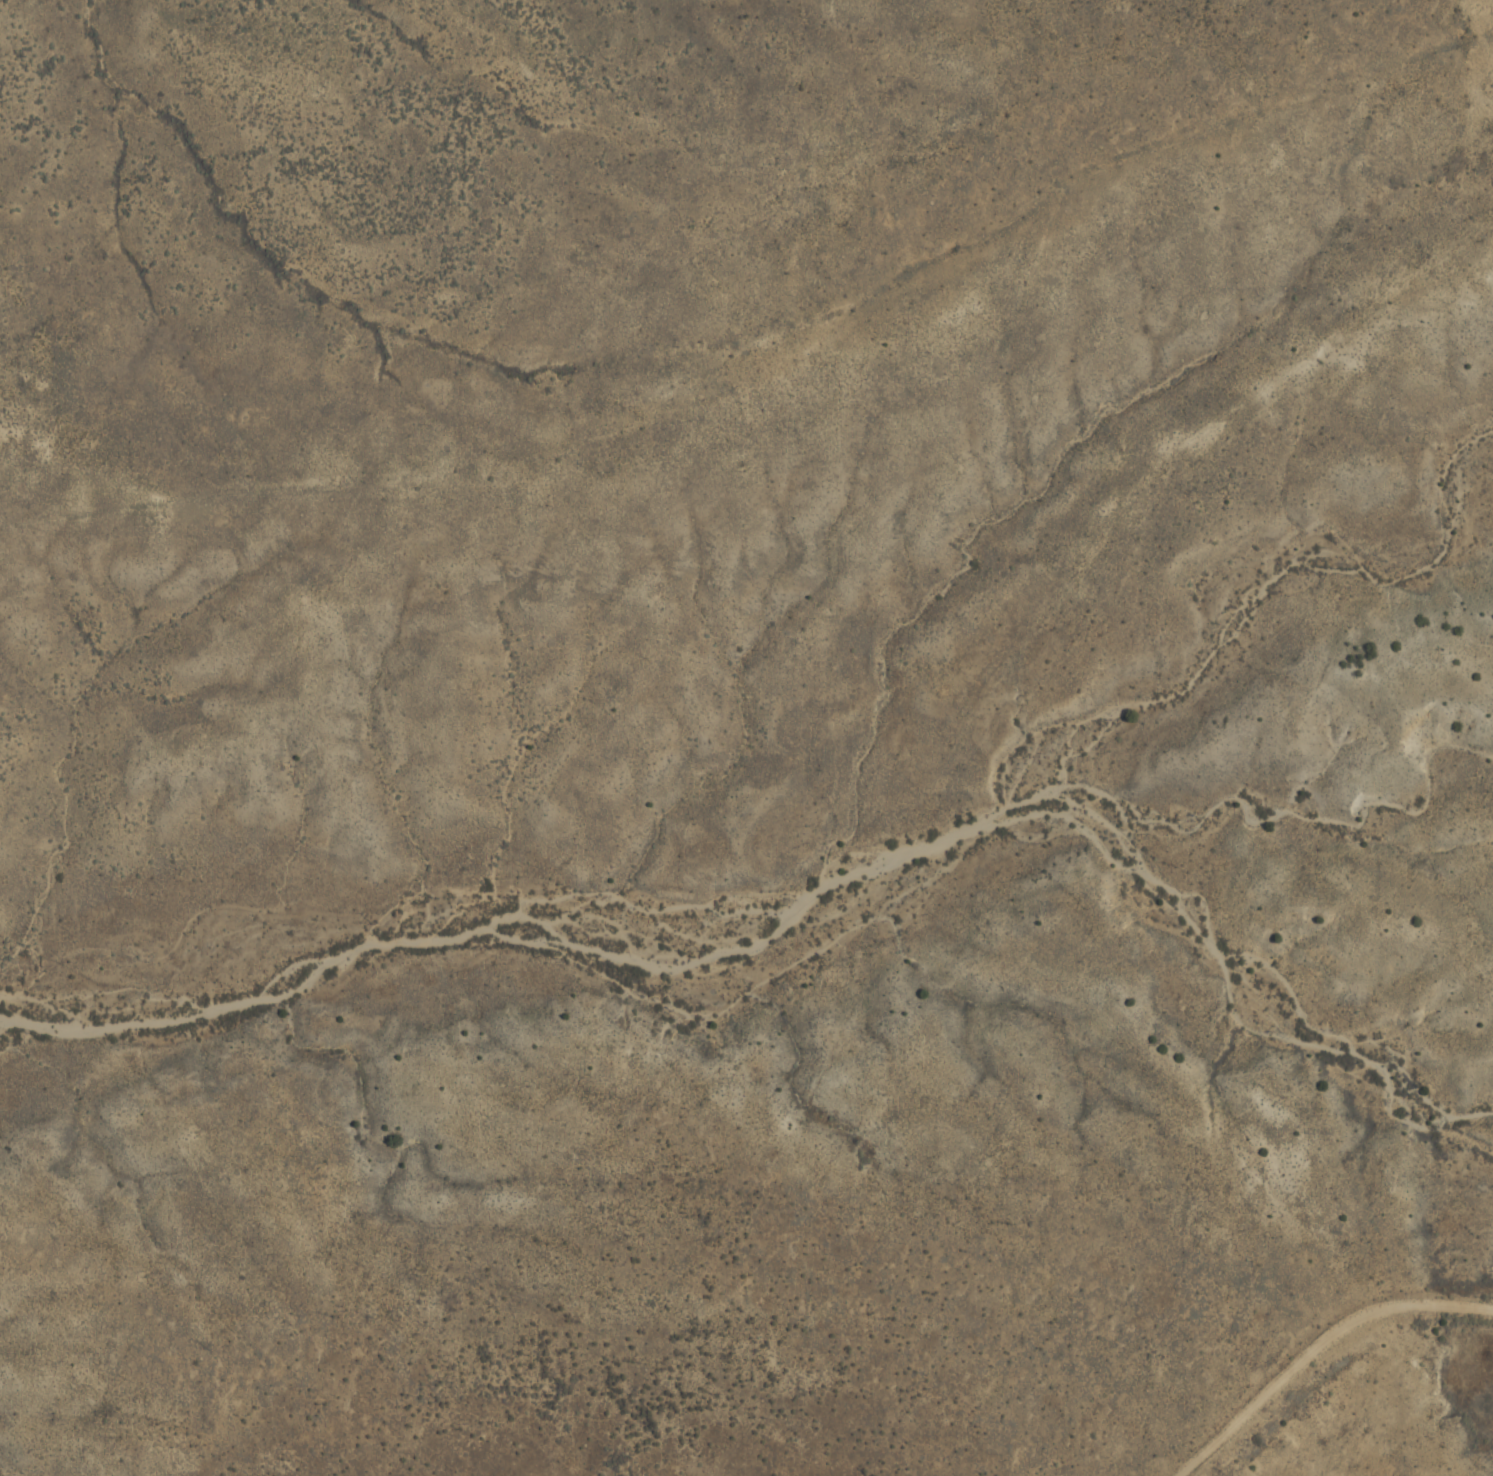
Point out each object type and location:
road: (1319, 1353)

